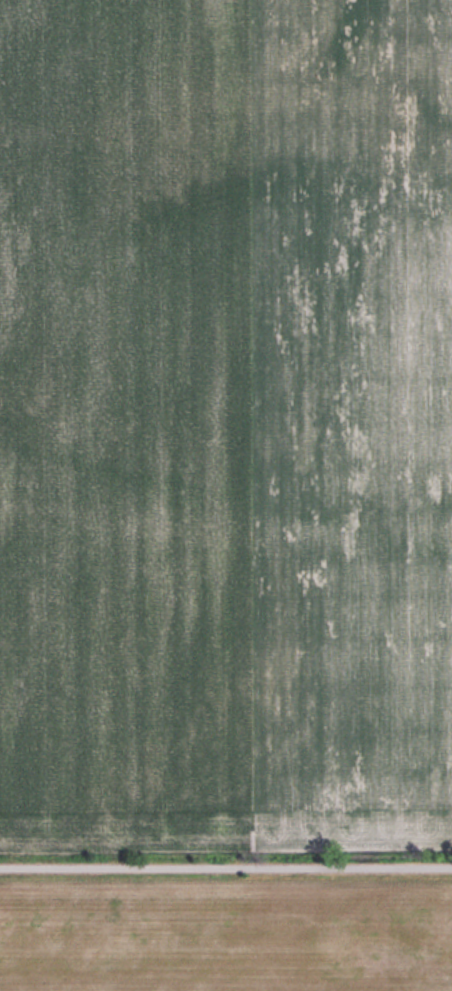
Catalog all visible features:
road: (226, 867)

